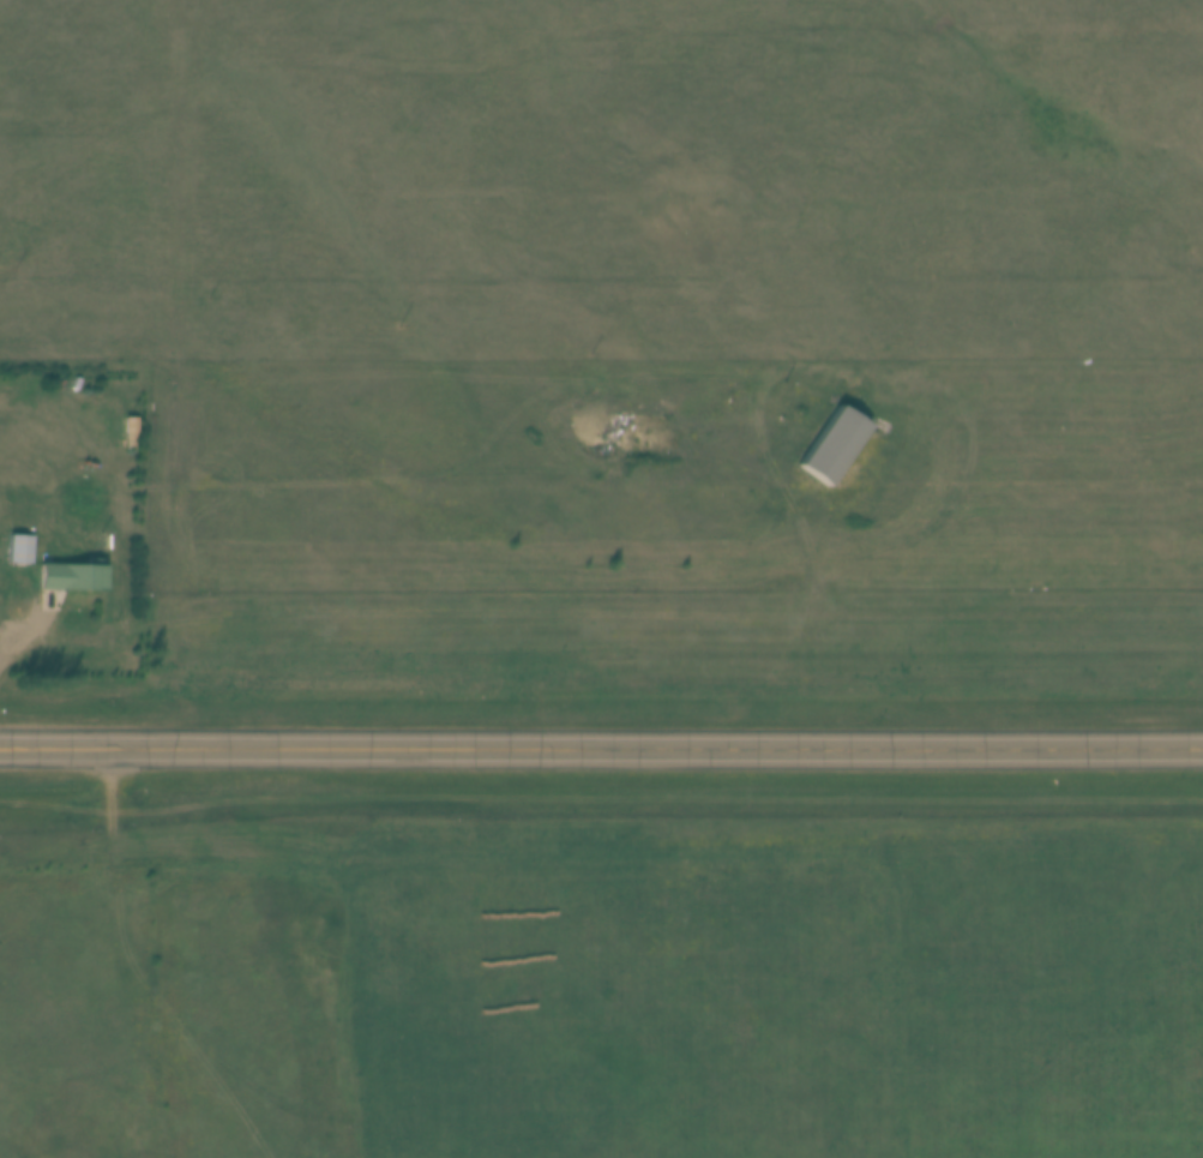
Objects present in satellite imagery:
building: (18, 550)
building: (71, 576)
road: (18, 629)
road: (601, 739)

